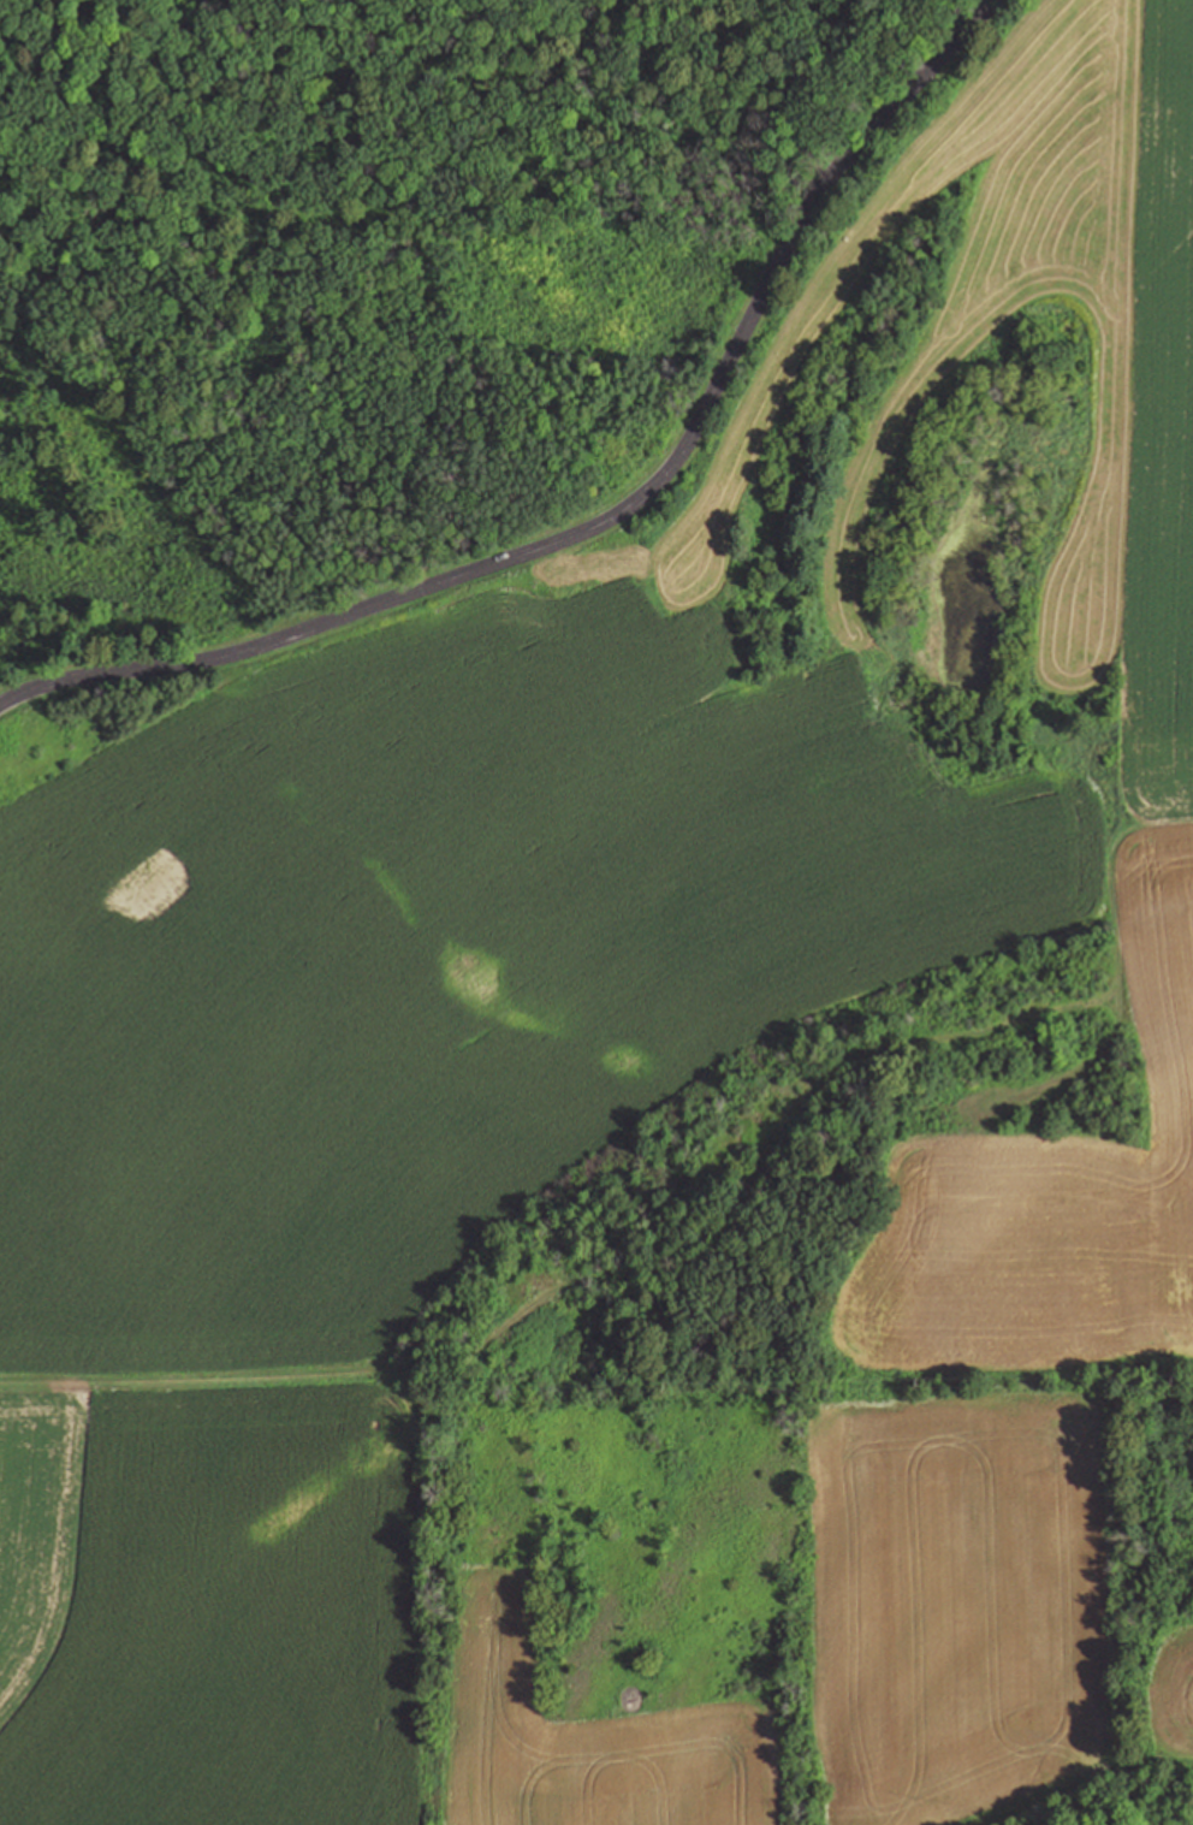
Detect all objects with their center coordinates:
road: (616, 514)

